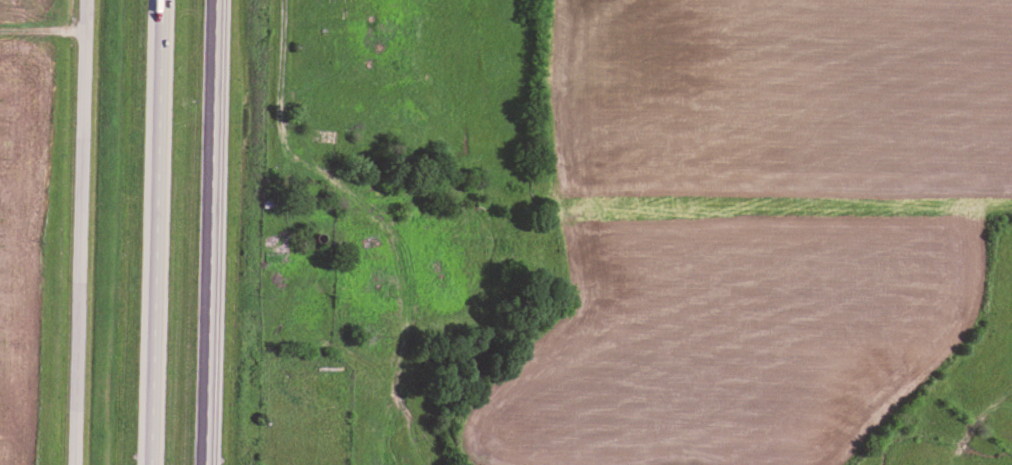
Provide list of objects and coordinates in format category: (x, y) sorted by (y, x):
road: (44, 34)
road: (83, 232)
road: (158, 232)
road: (211, 232)

